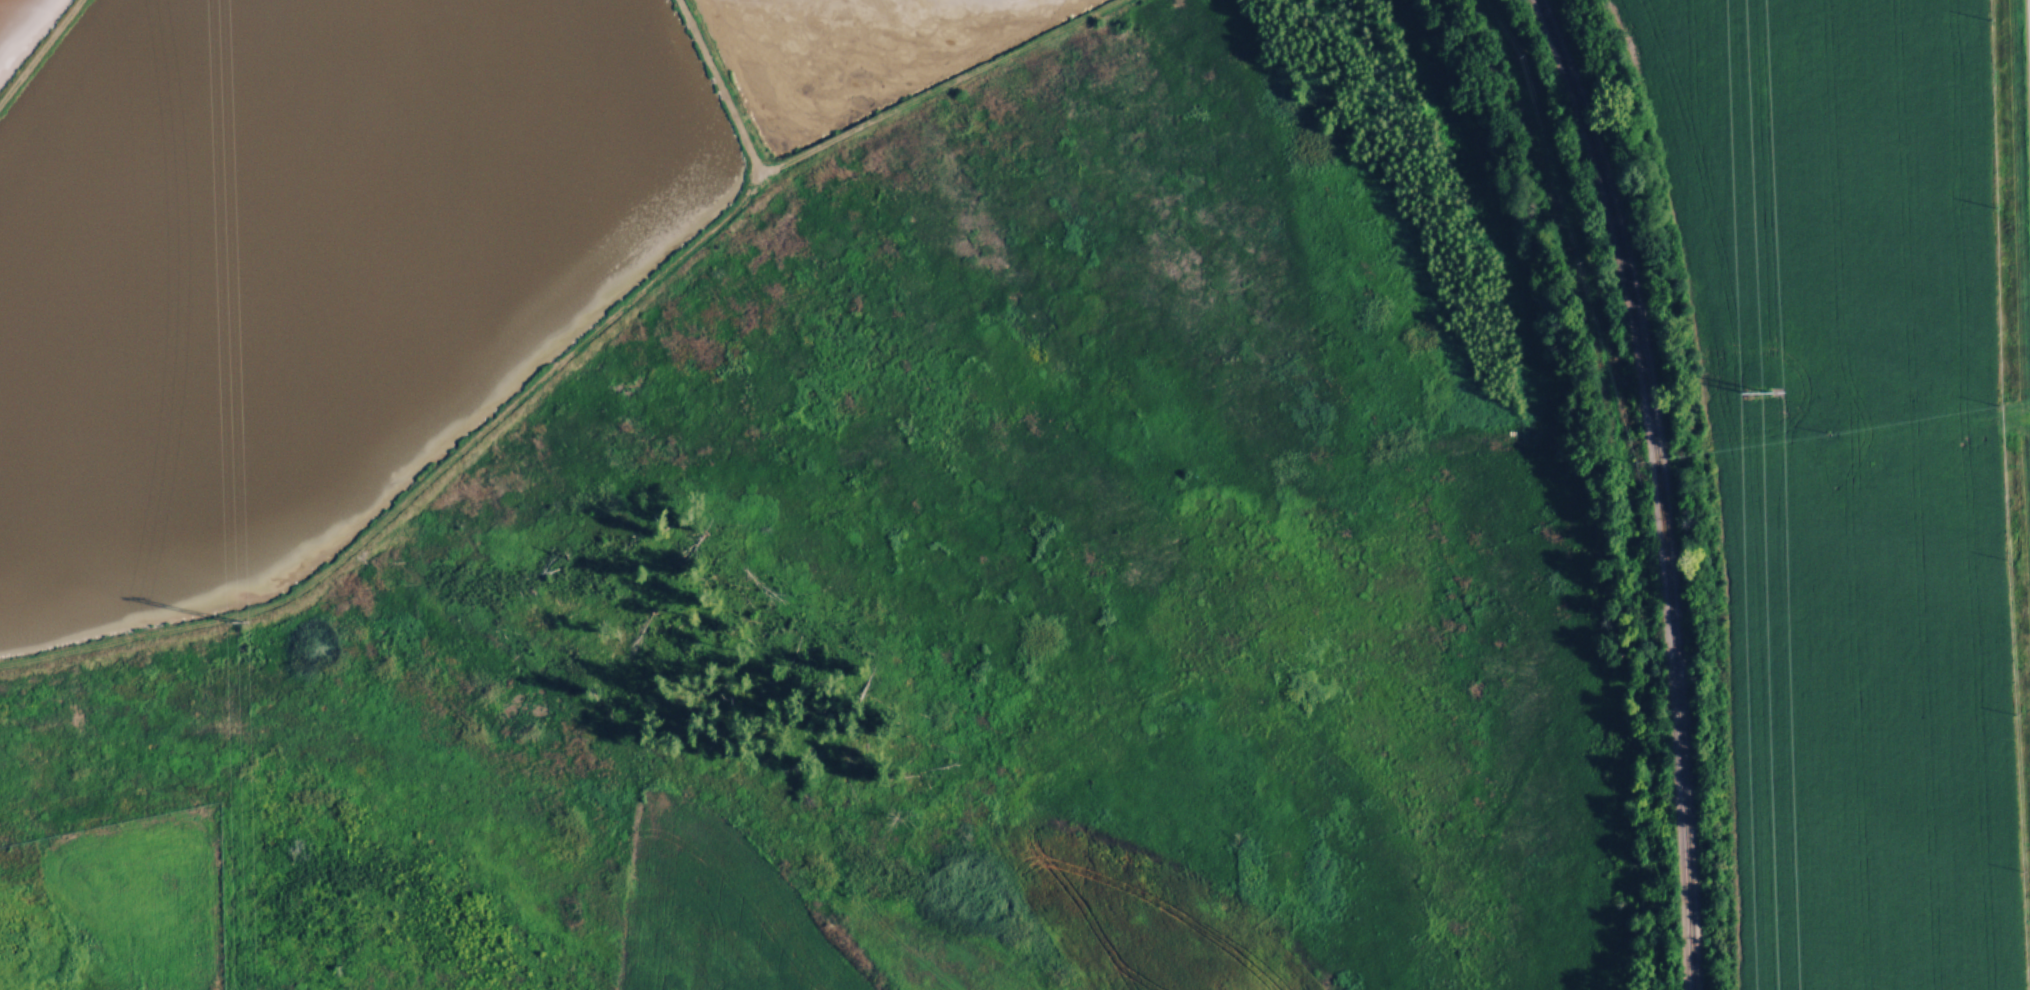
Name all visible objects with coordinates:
road: (38, 49)
road: (718, 86)
road: (566, 353)
power tower: (1758, 391)
railway: (1658, 487)
power tower: (249, 626)

